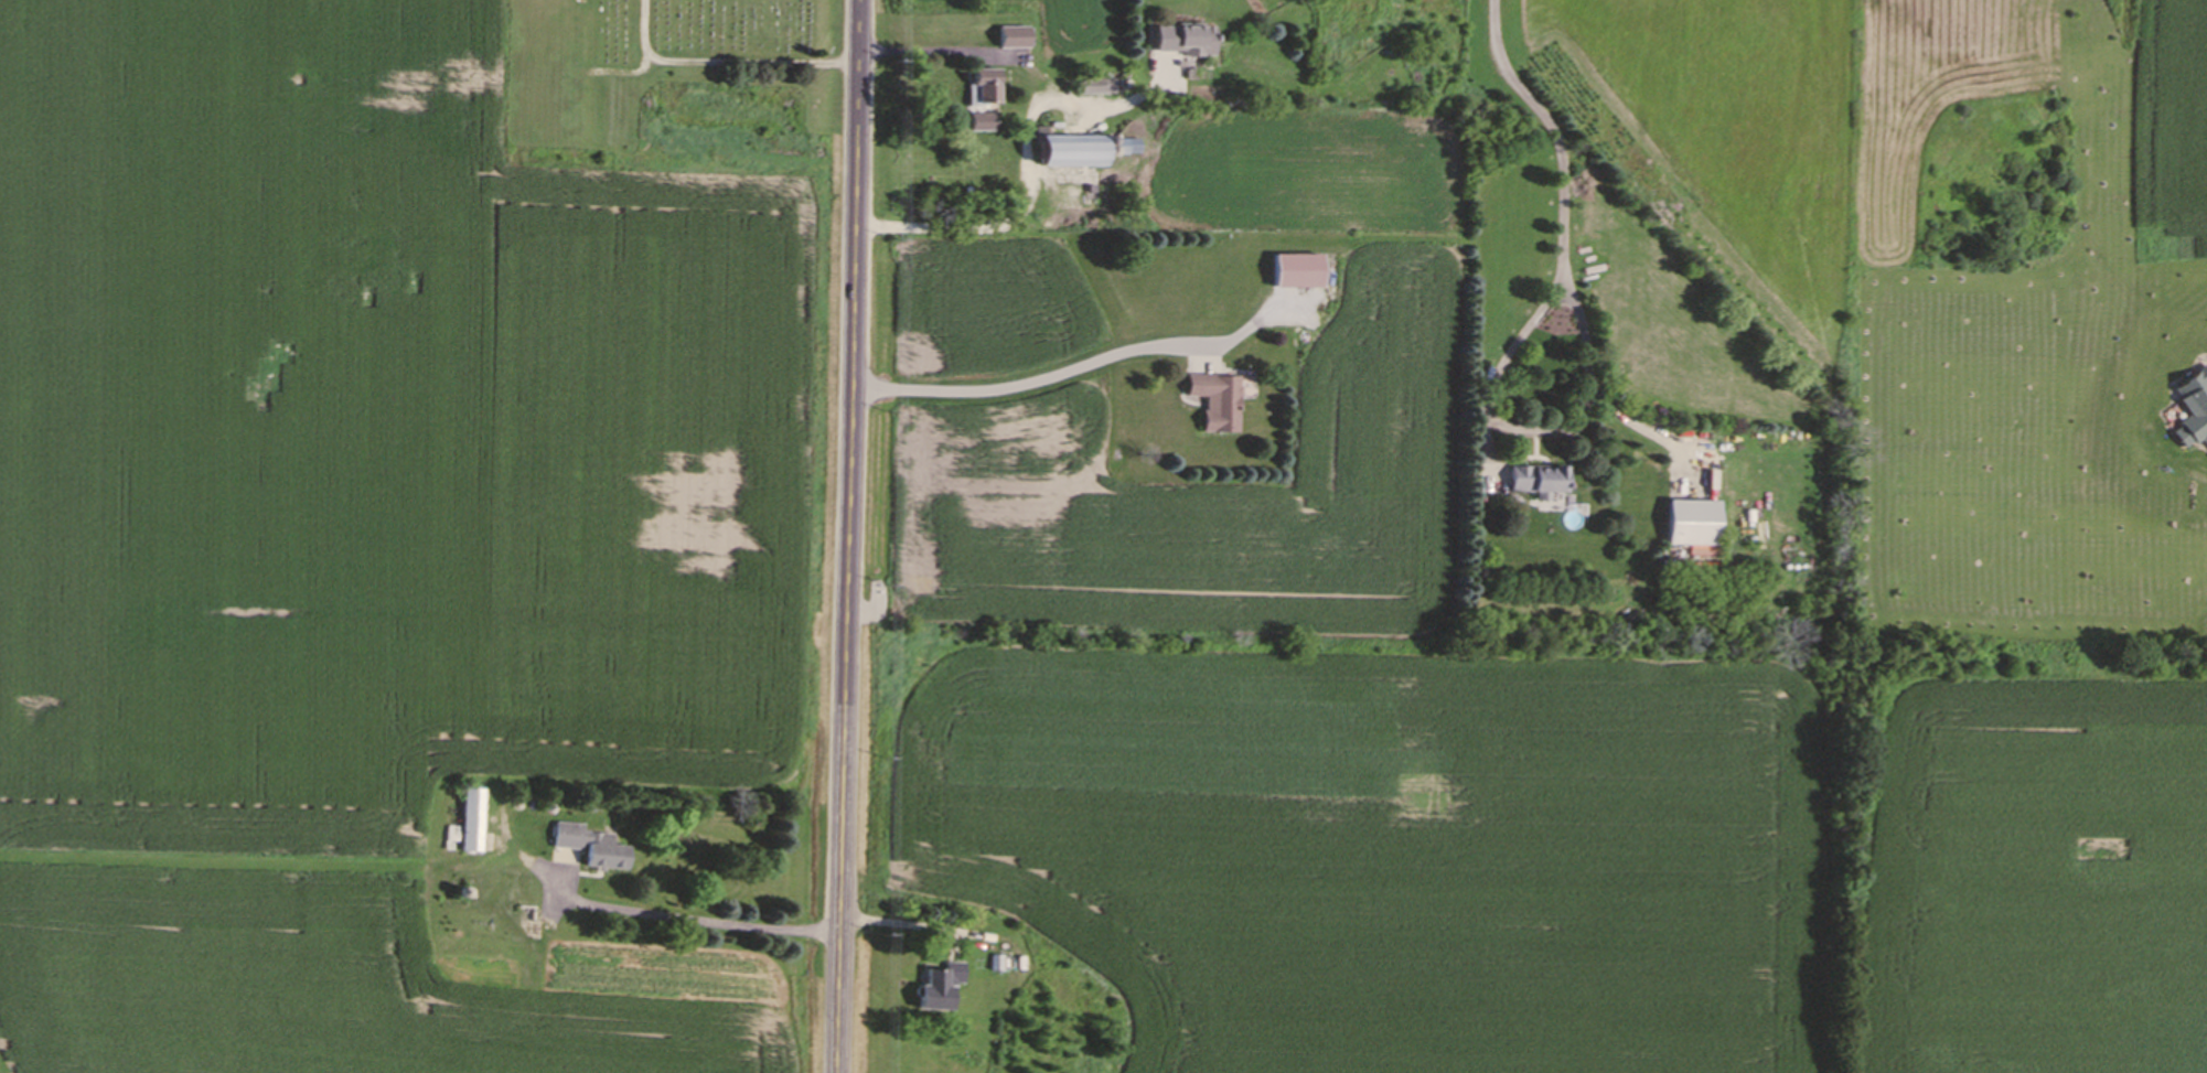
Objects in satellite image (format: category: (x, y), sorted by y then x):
building: (1009, 40)
building: (1179, 43)
road: (924, 50)
building: (979, 92)
road: (1056, 105)
building: (977, 125)
crop: (2177, 127)
road: (1557, 133)
building: (1059, 153)
road: (949, 228)
building: (1295, 275)
road: (1029, 383)
building: (1214, 405)
road: (1528, 431)
building: (1531, 483)
building: (1685, 526)
crop: (373, 535)
road: (847, 536)
building: (1703, 562)
crop: (1478, 723)
building: (469, 823)
building: (588, 850)
road: (697, 922)
building: (931, 994)

